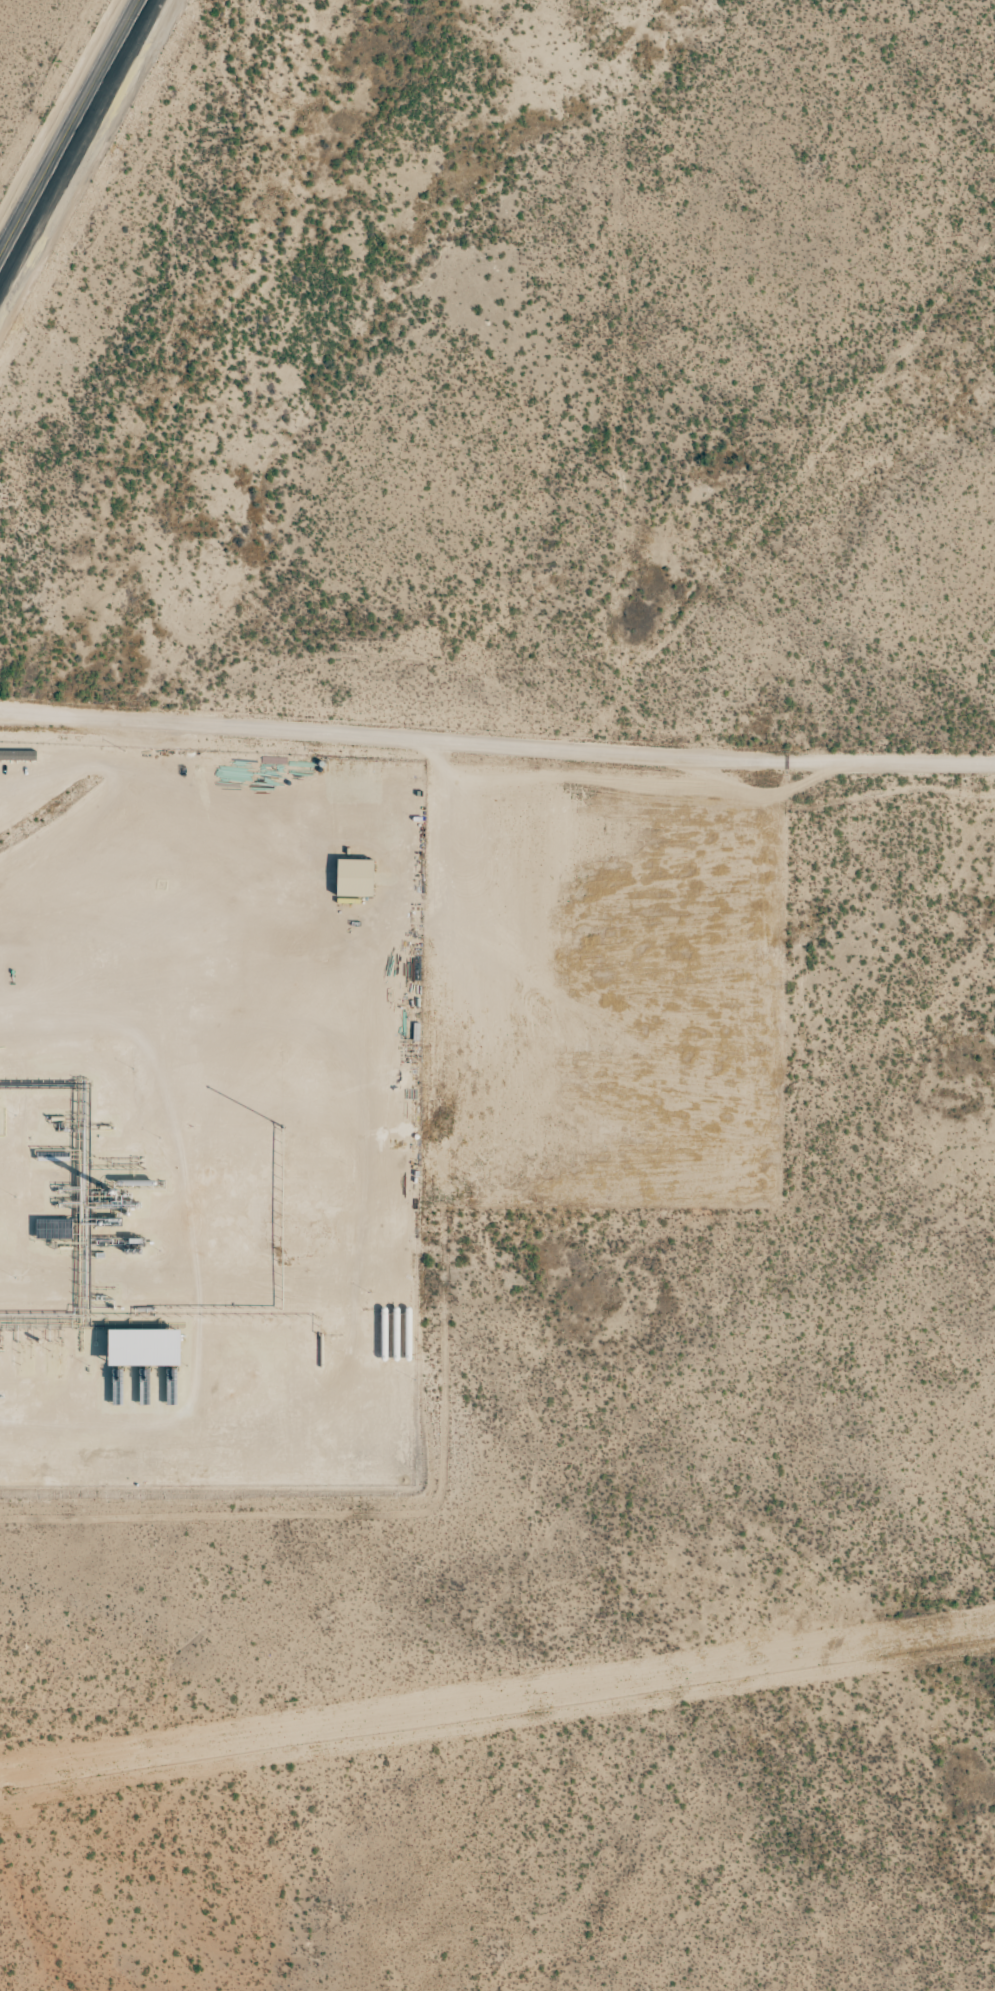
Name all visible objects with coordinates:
road: (73, 135)
road: (496, 756)
building: (359, 877)

